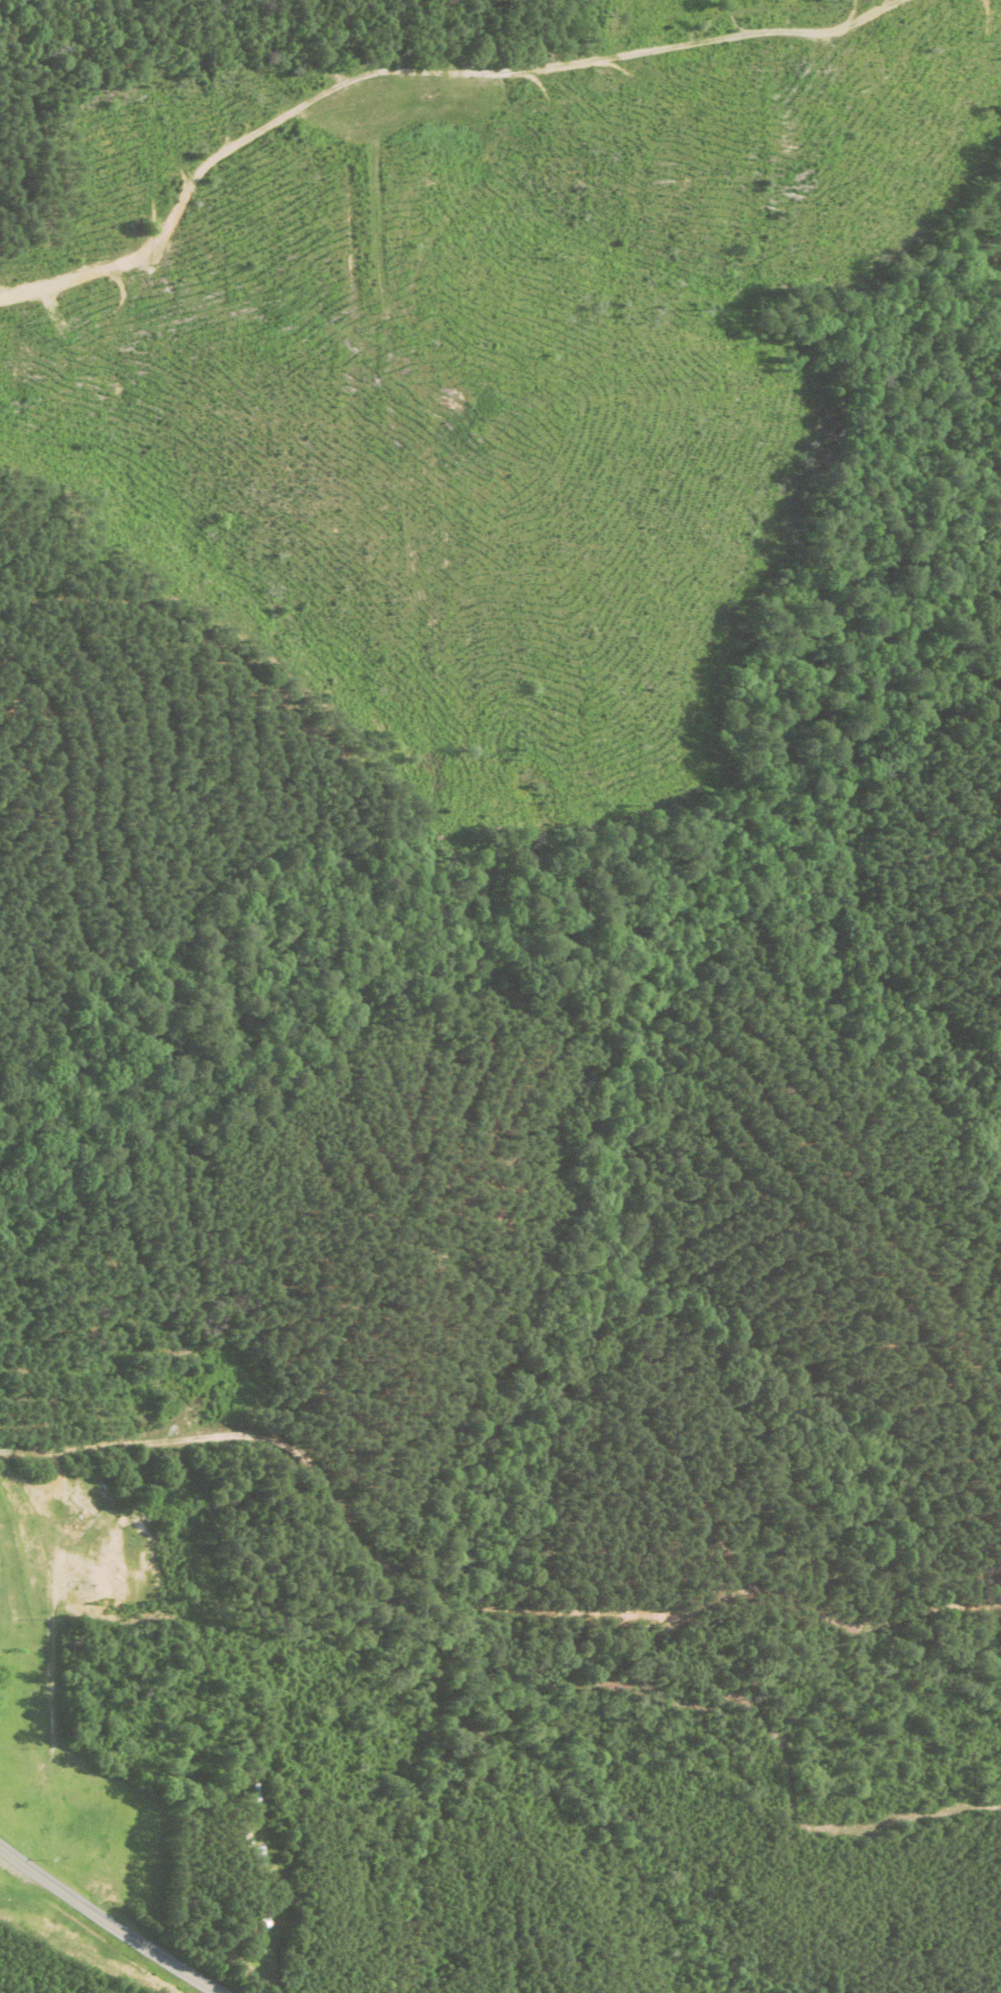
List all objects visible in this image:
building: (260, 1856)
road: (111, 1920)

